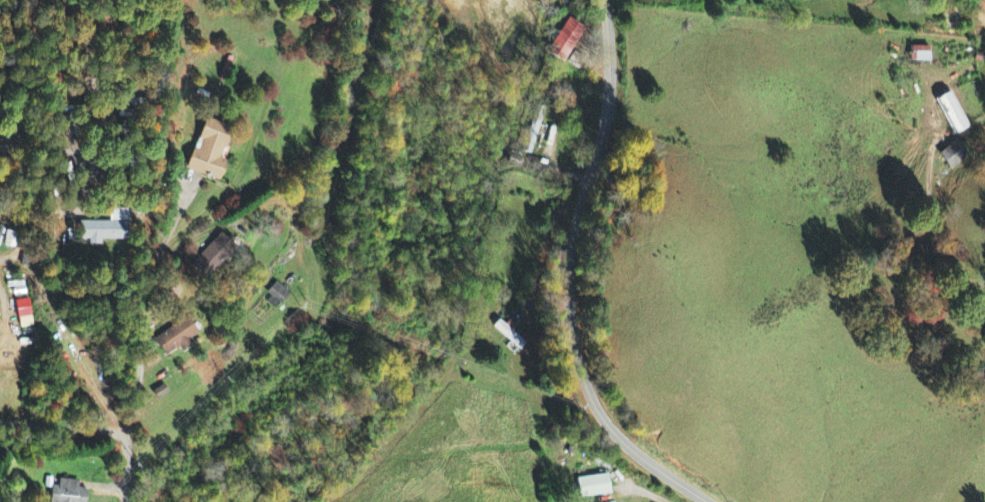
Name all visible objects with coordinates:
building: (778, 0)
building: (566, 38)
building: (918, 54)
building: (950, 113)
building: (207, 150)
building: (952, 155)
building: (104, 228)
building: (216, 251)
road: (566, 274)
building: (276, 294)
building: (22, 314)
road: (143, 320)
building: (507, 332)
building: (173, 338)
road: (65, 426)
road: (127, 470)
building: (592, 487)
building: (66, 492)

